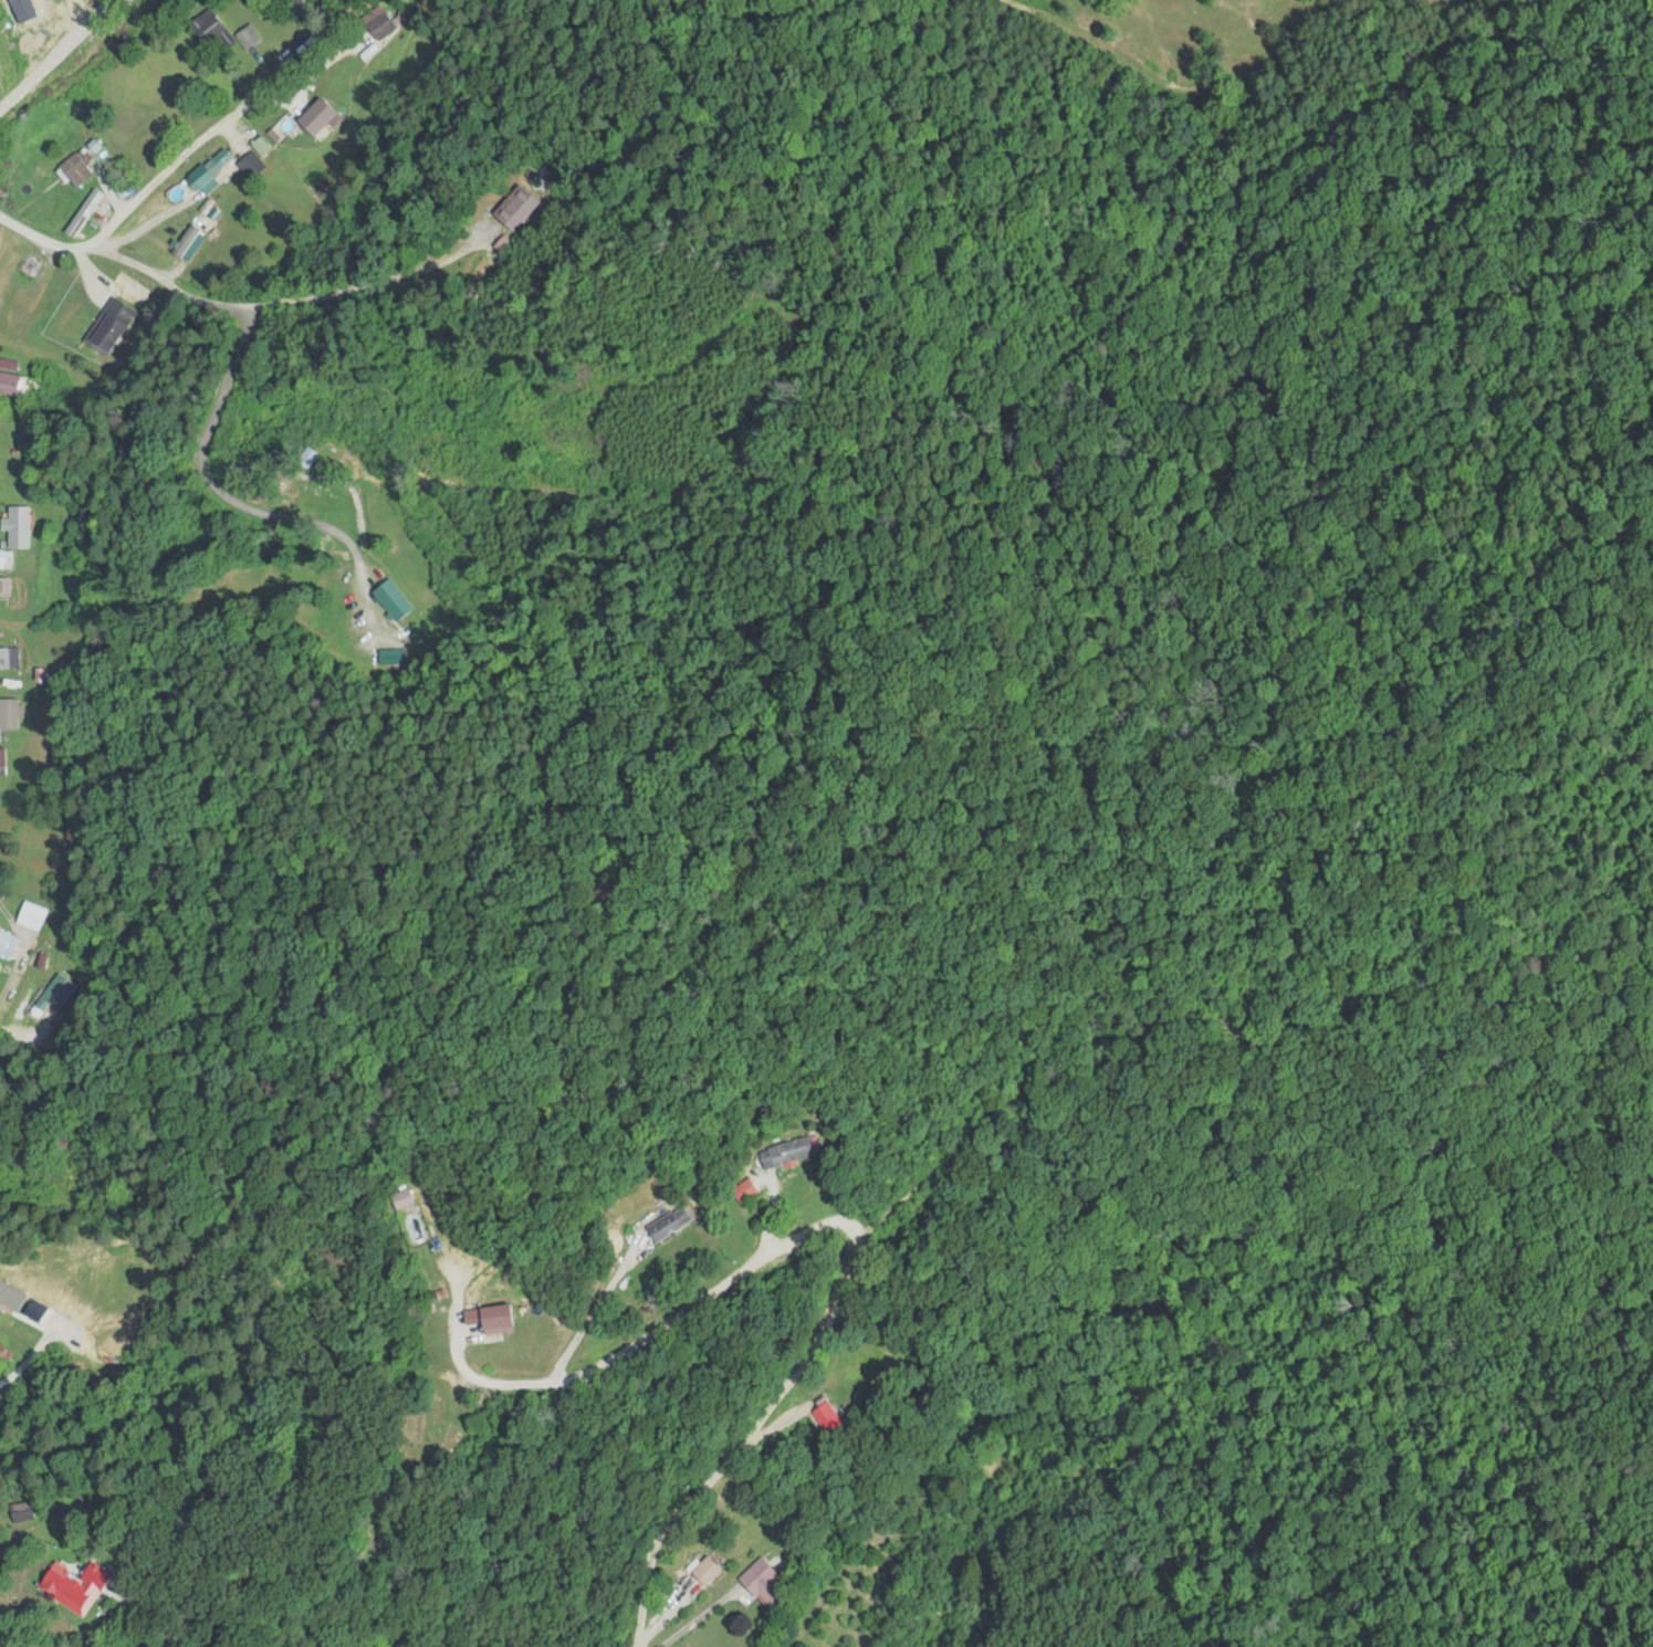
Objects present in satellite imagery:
road: (63, 51)

